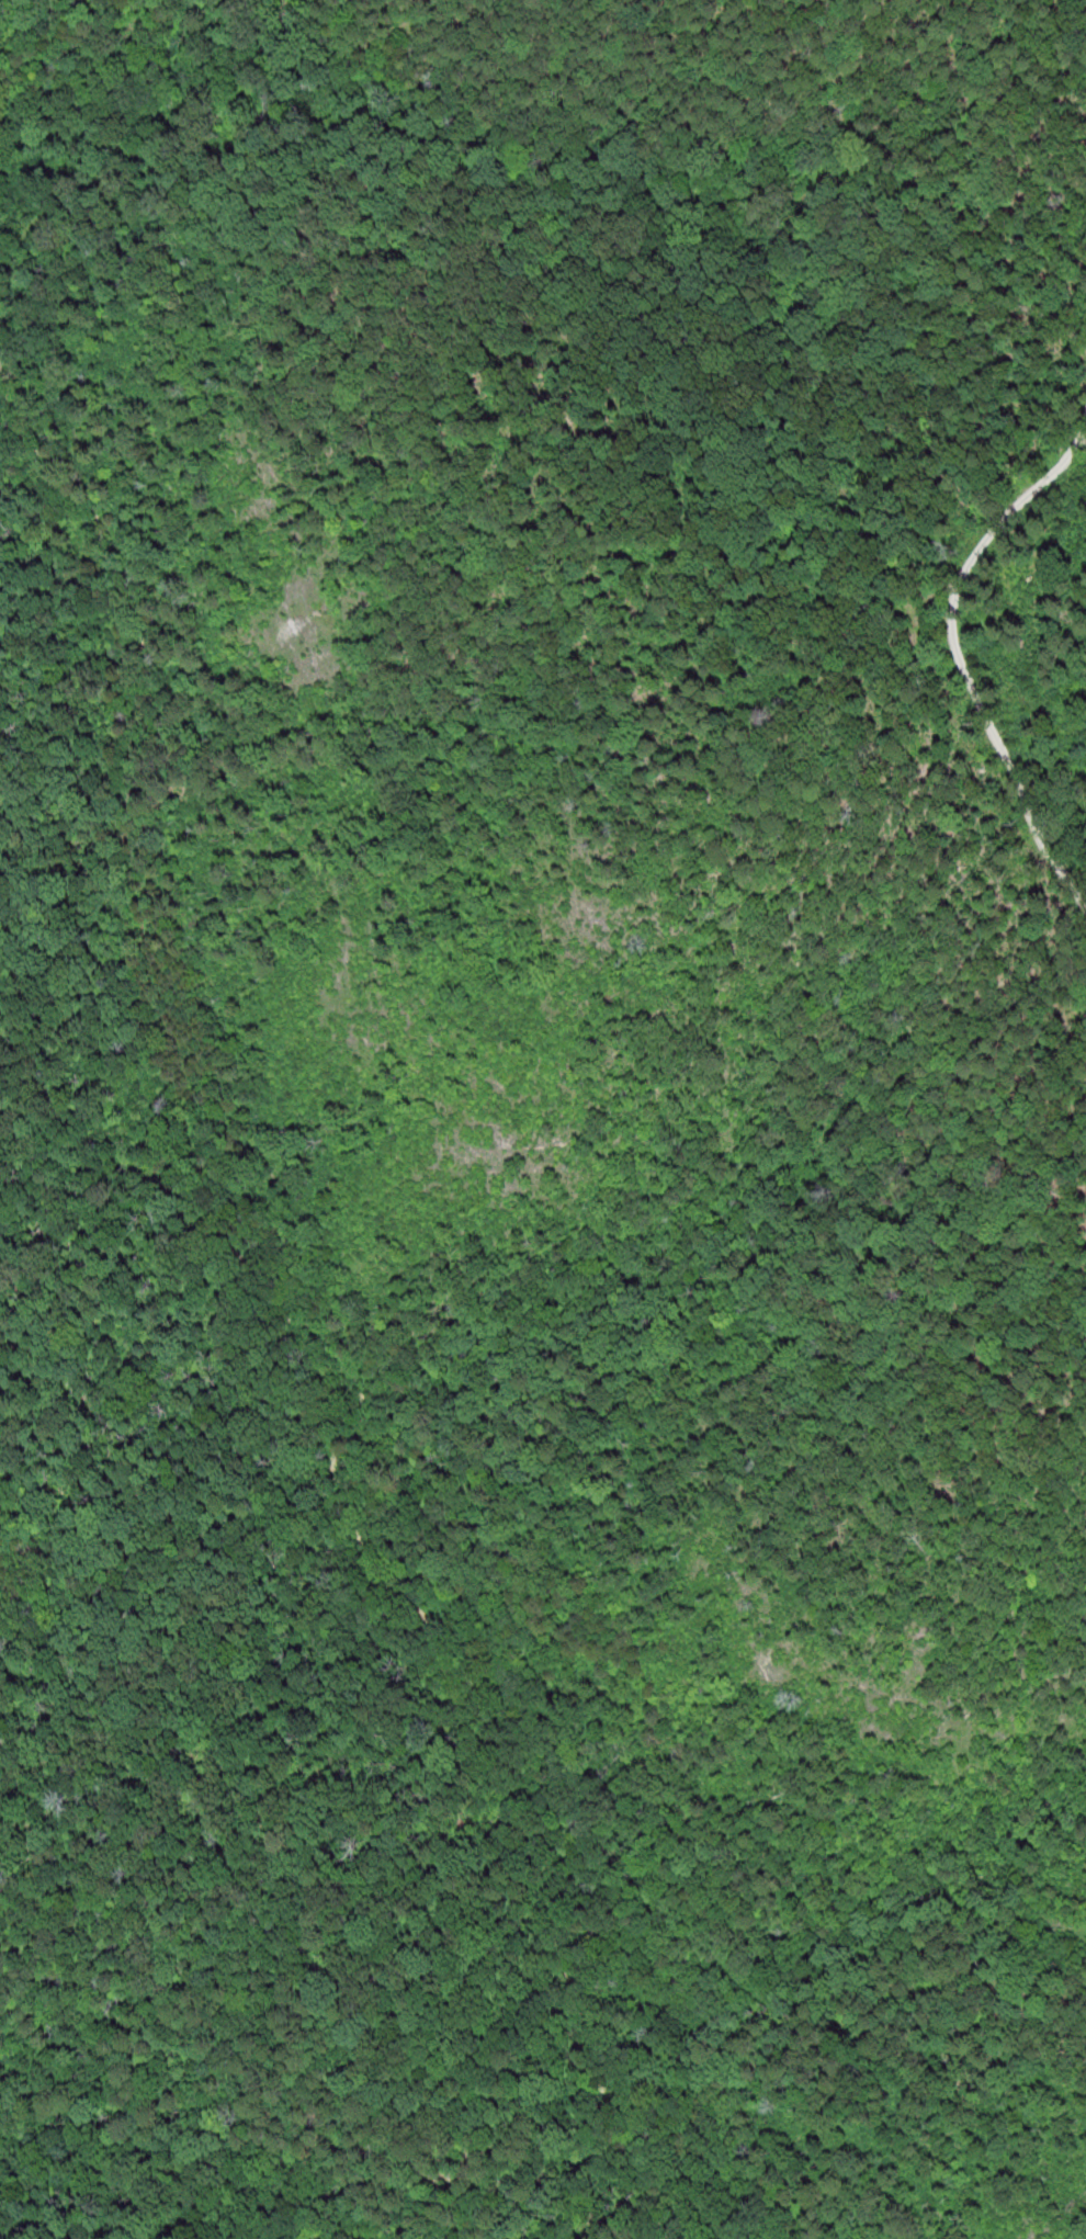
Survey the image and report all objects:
road: (940, 613)

